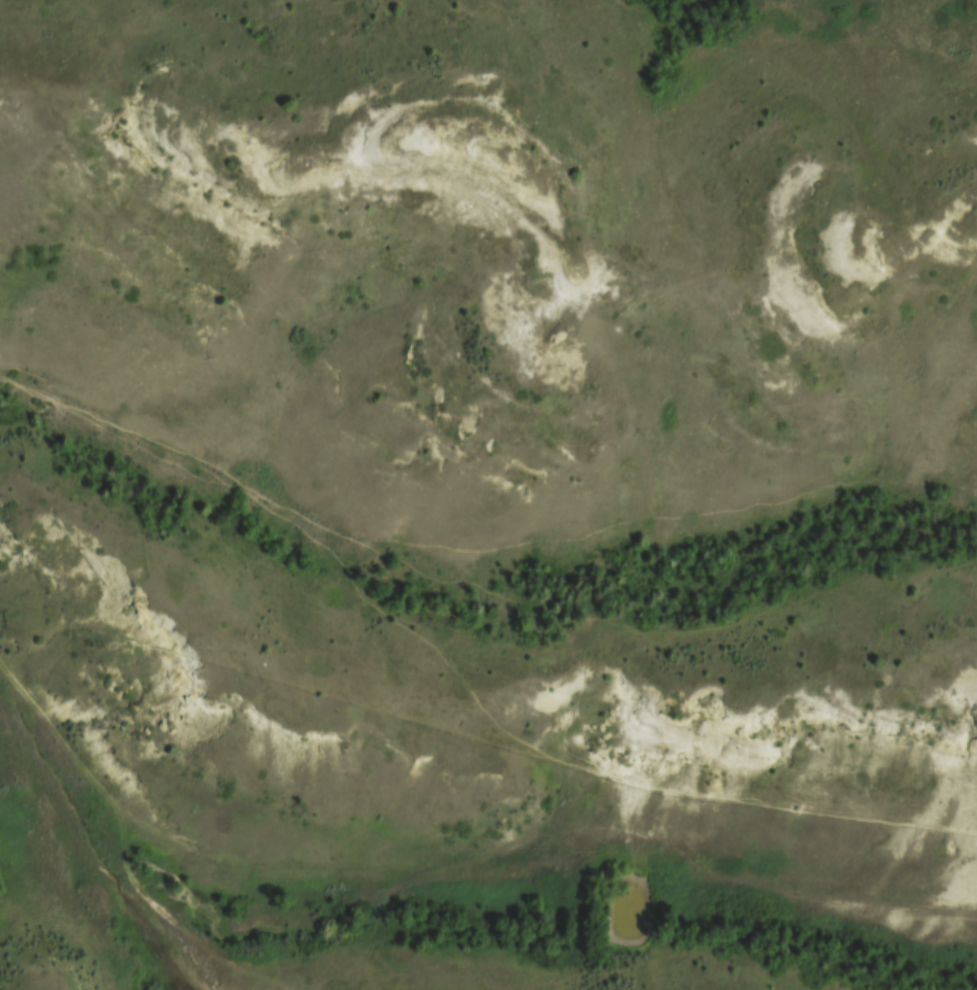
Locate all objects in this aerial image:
road: (617, 816)
road: (120, 850)

